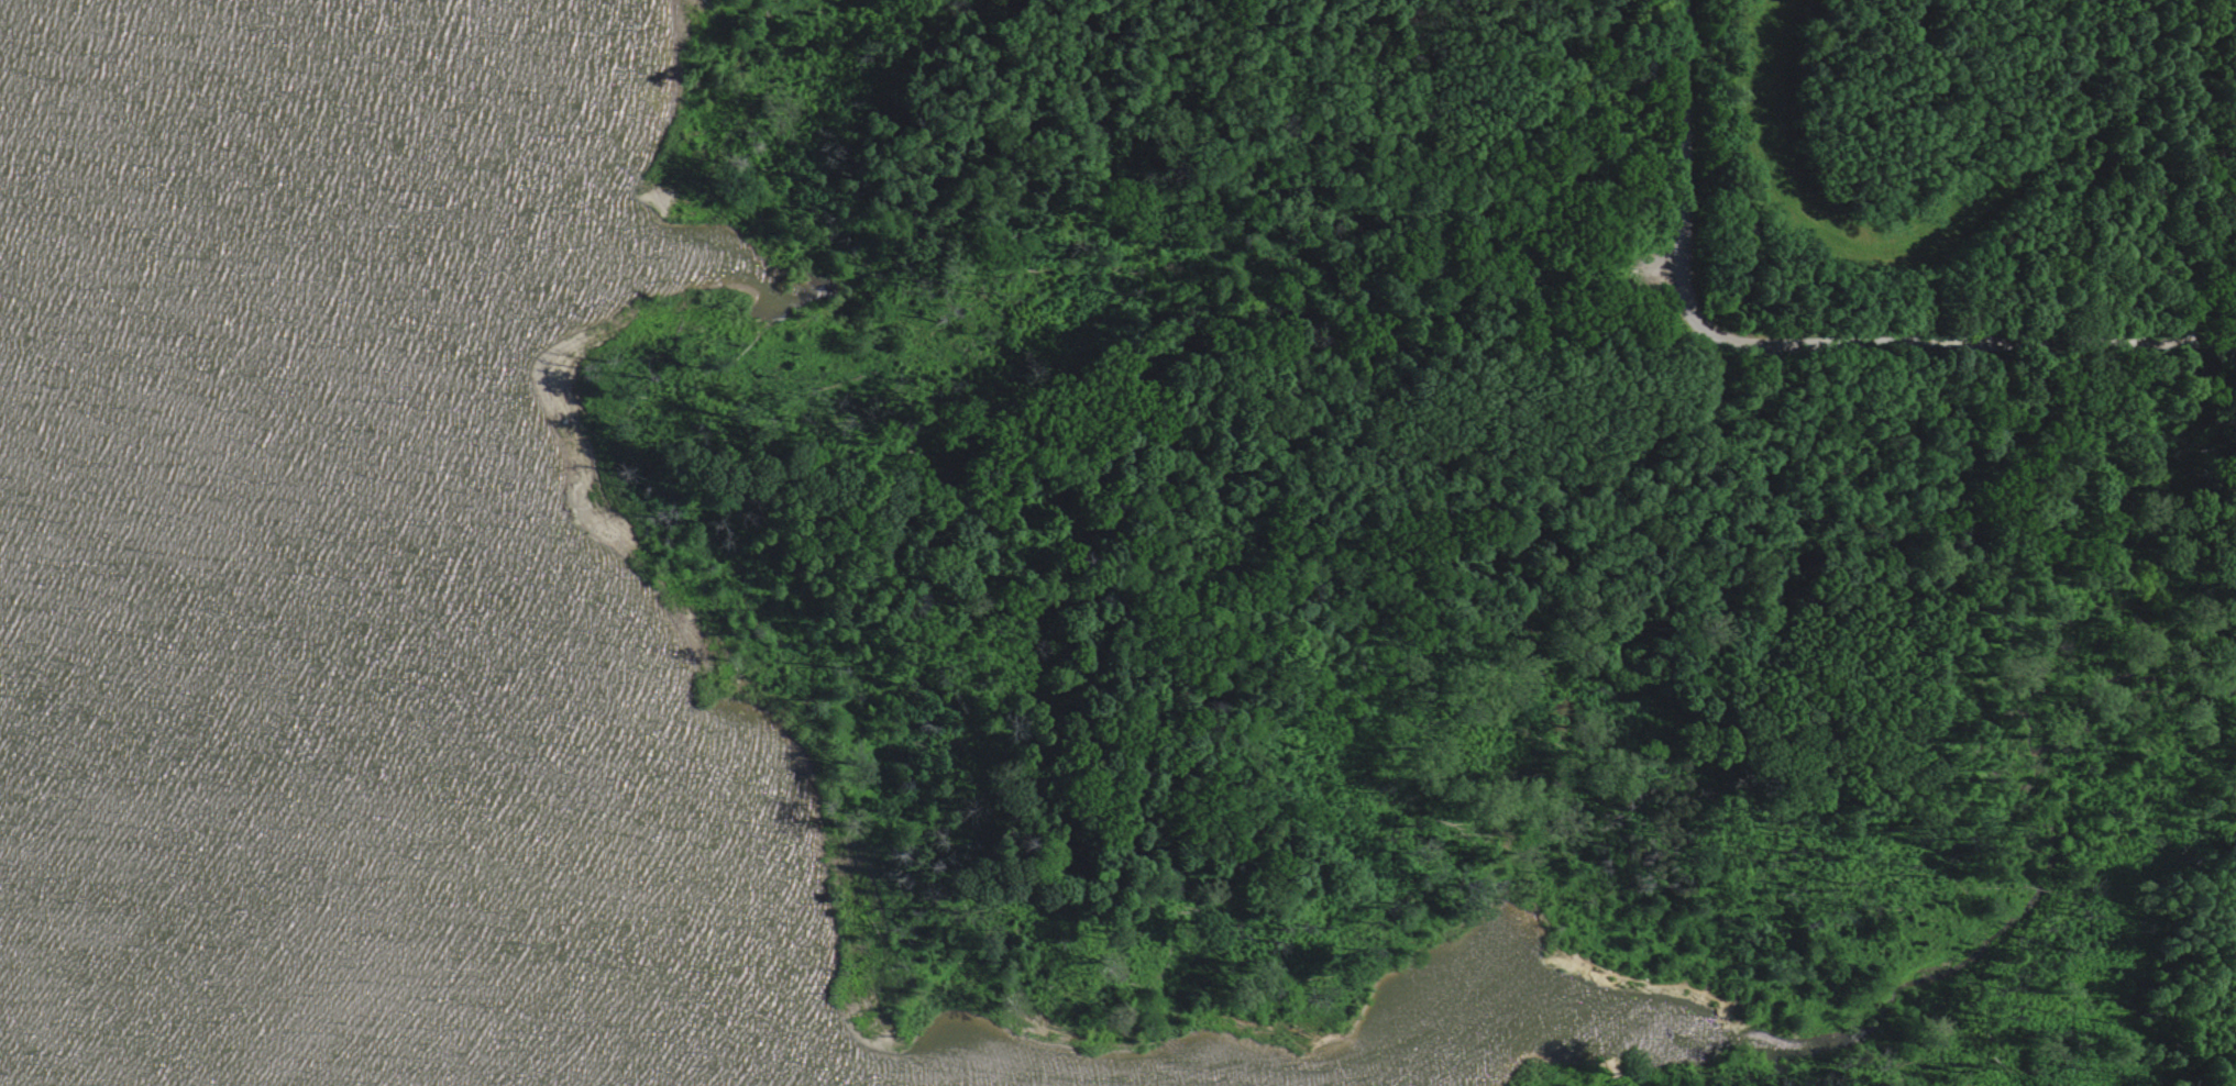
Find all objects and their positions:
road: (1678, 163)
parking lot: (1659, 273)
road: (1958, 347)
river: (255, 713)

